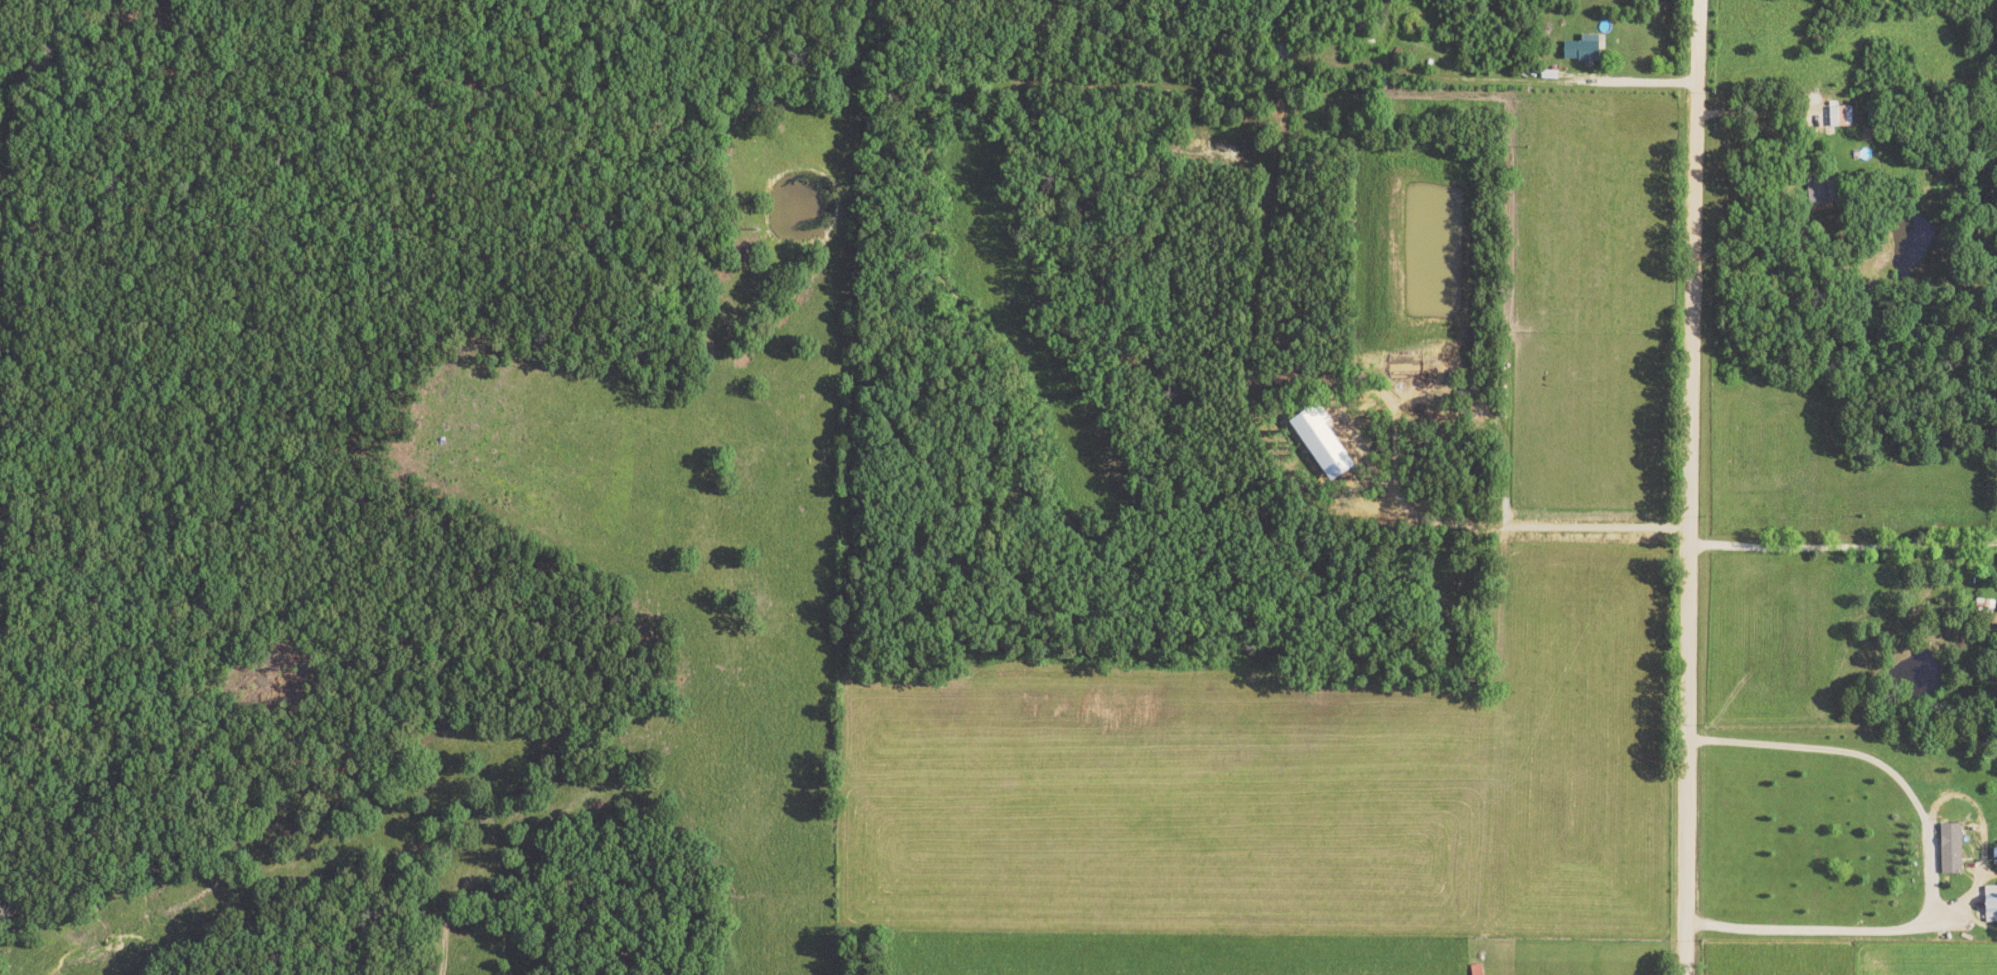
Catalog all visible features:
building: (1579, 50)
road: (1527, 82)
building: (1837, 116)
road: (1759, 120)
building: (1319, 441)
road: (1683, 487)
road: (1839, 545)
building: (1948, 850)
building: (1989, 904)
road: (1823, 930)
building: (1475, 970)

